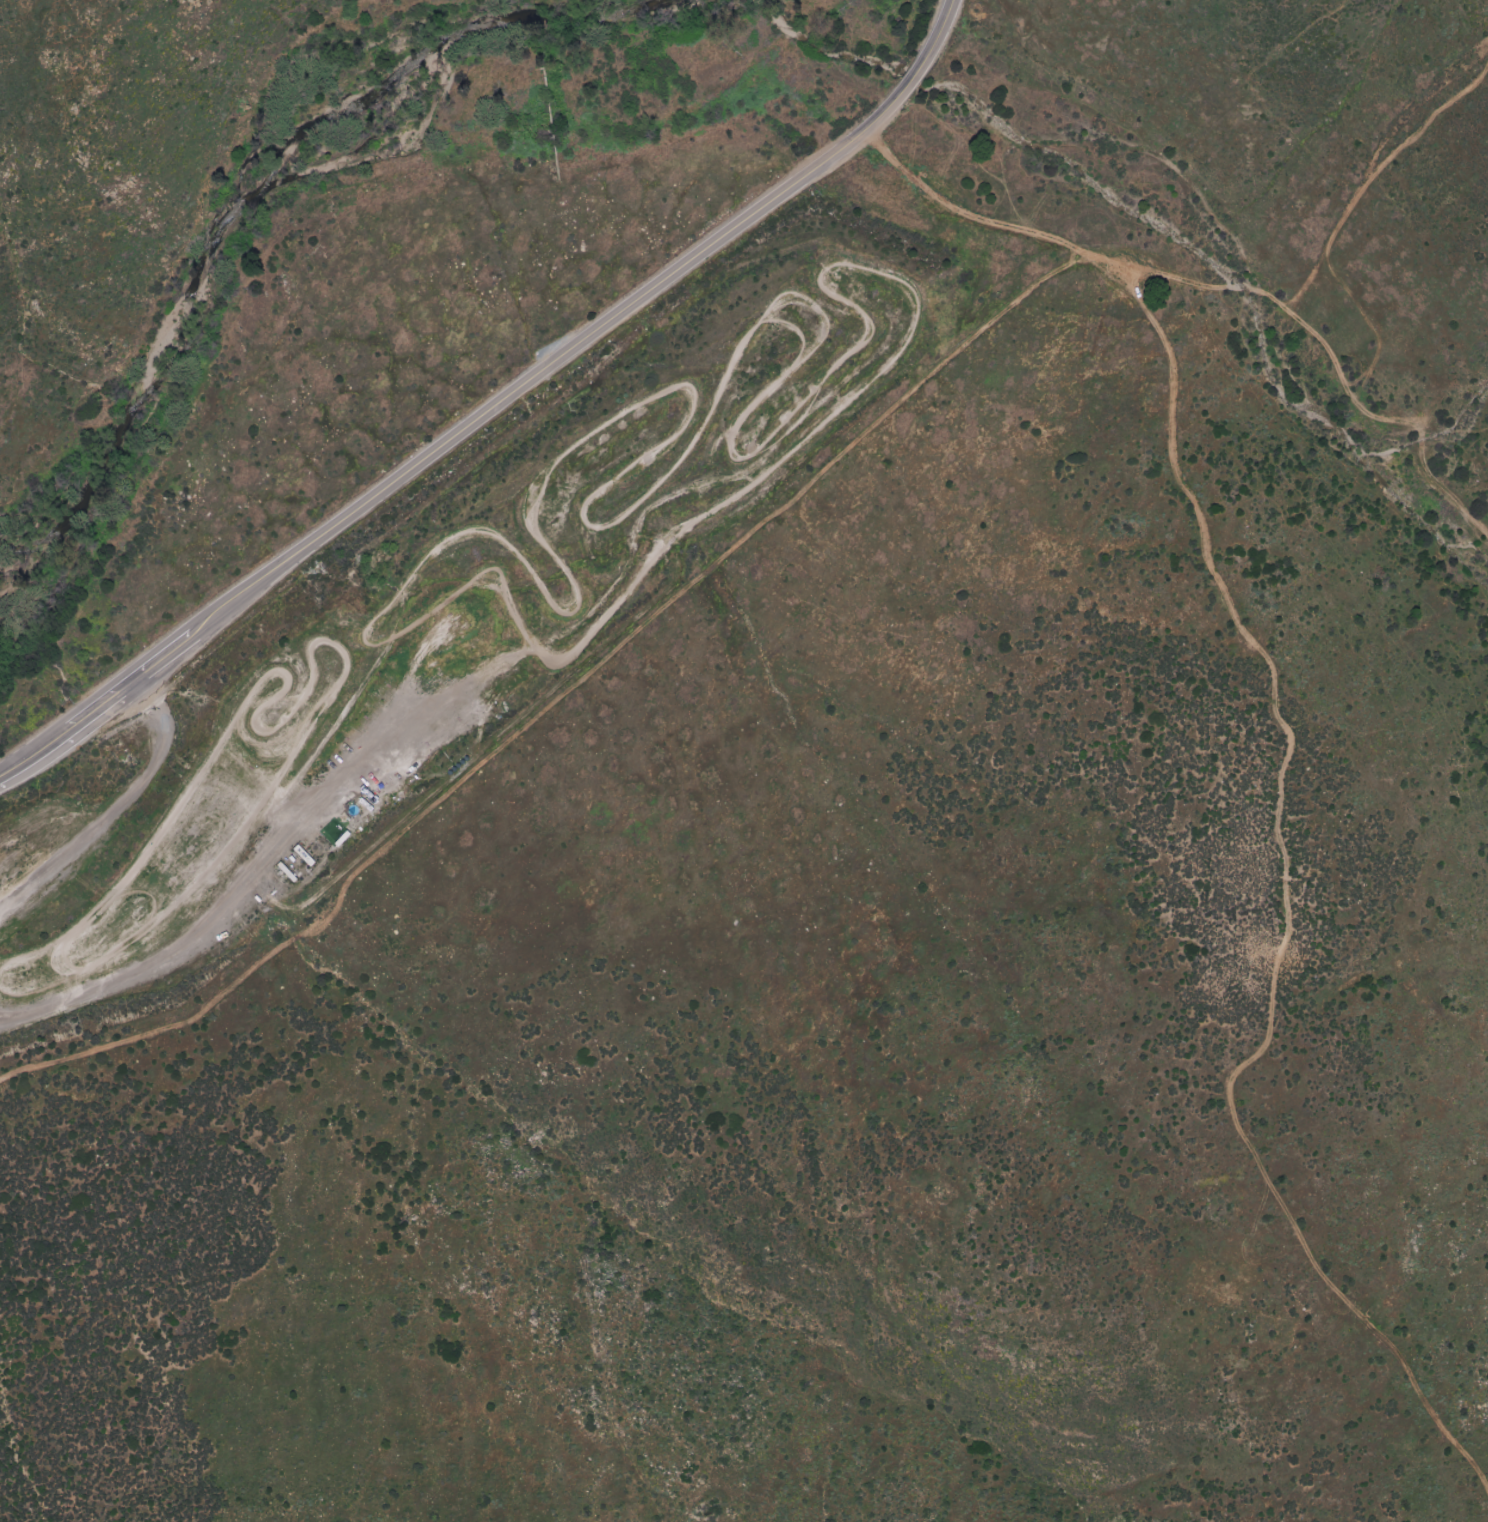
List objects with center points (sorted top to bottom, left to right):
road: (499, 410)
road: (1276, 773)

